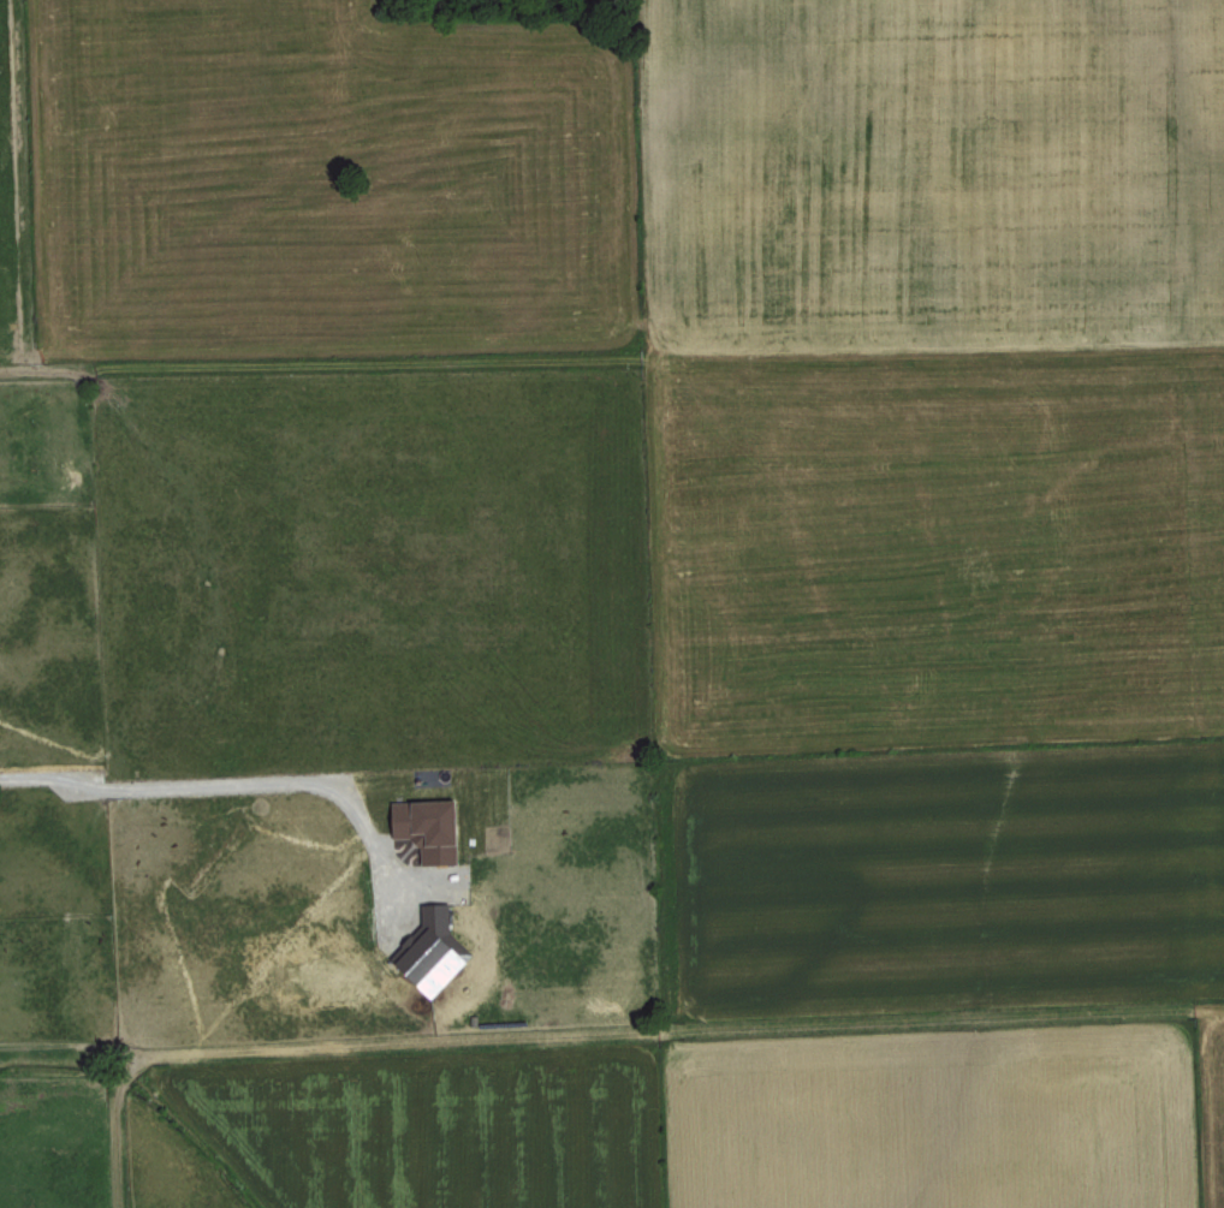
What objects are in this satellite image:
road: (203, 782)
building: (434, 827)
building: (438, 950)

